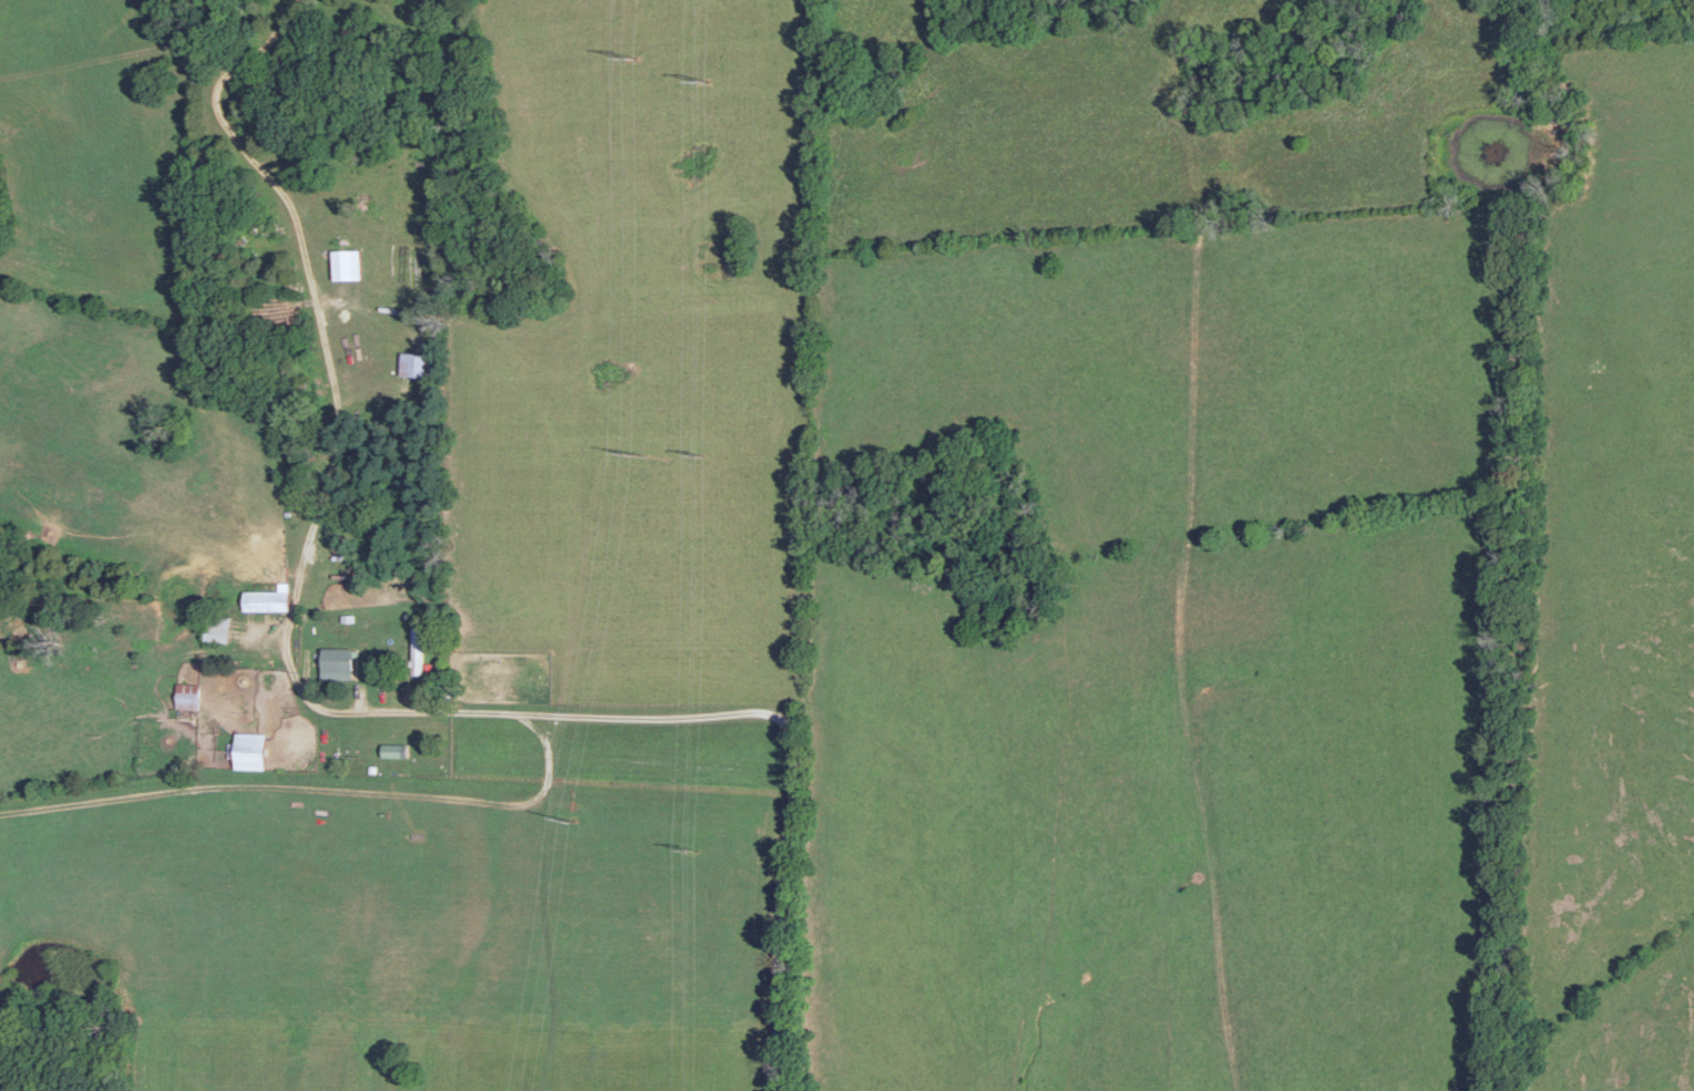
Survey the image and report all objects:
power tower: (639, 53)
power tower: (698, 72)
building: (417, 363)
power tower: (704, 447)
power tower: (626, 452)
building: (268, 598)
building: (219, 627)
building: (419, 649)
building: (341, 658)
building: (187, 694)
road: (747, 707)
building: (251, 750)
power tower: (567, 812)
power tower: (688, 846)

